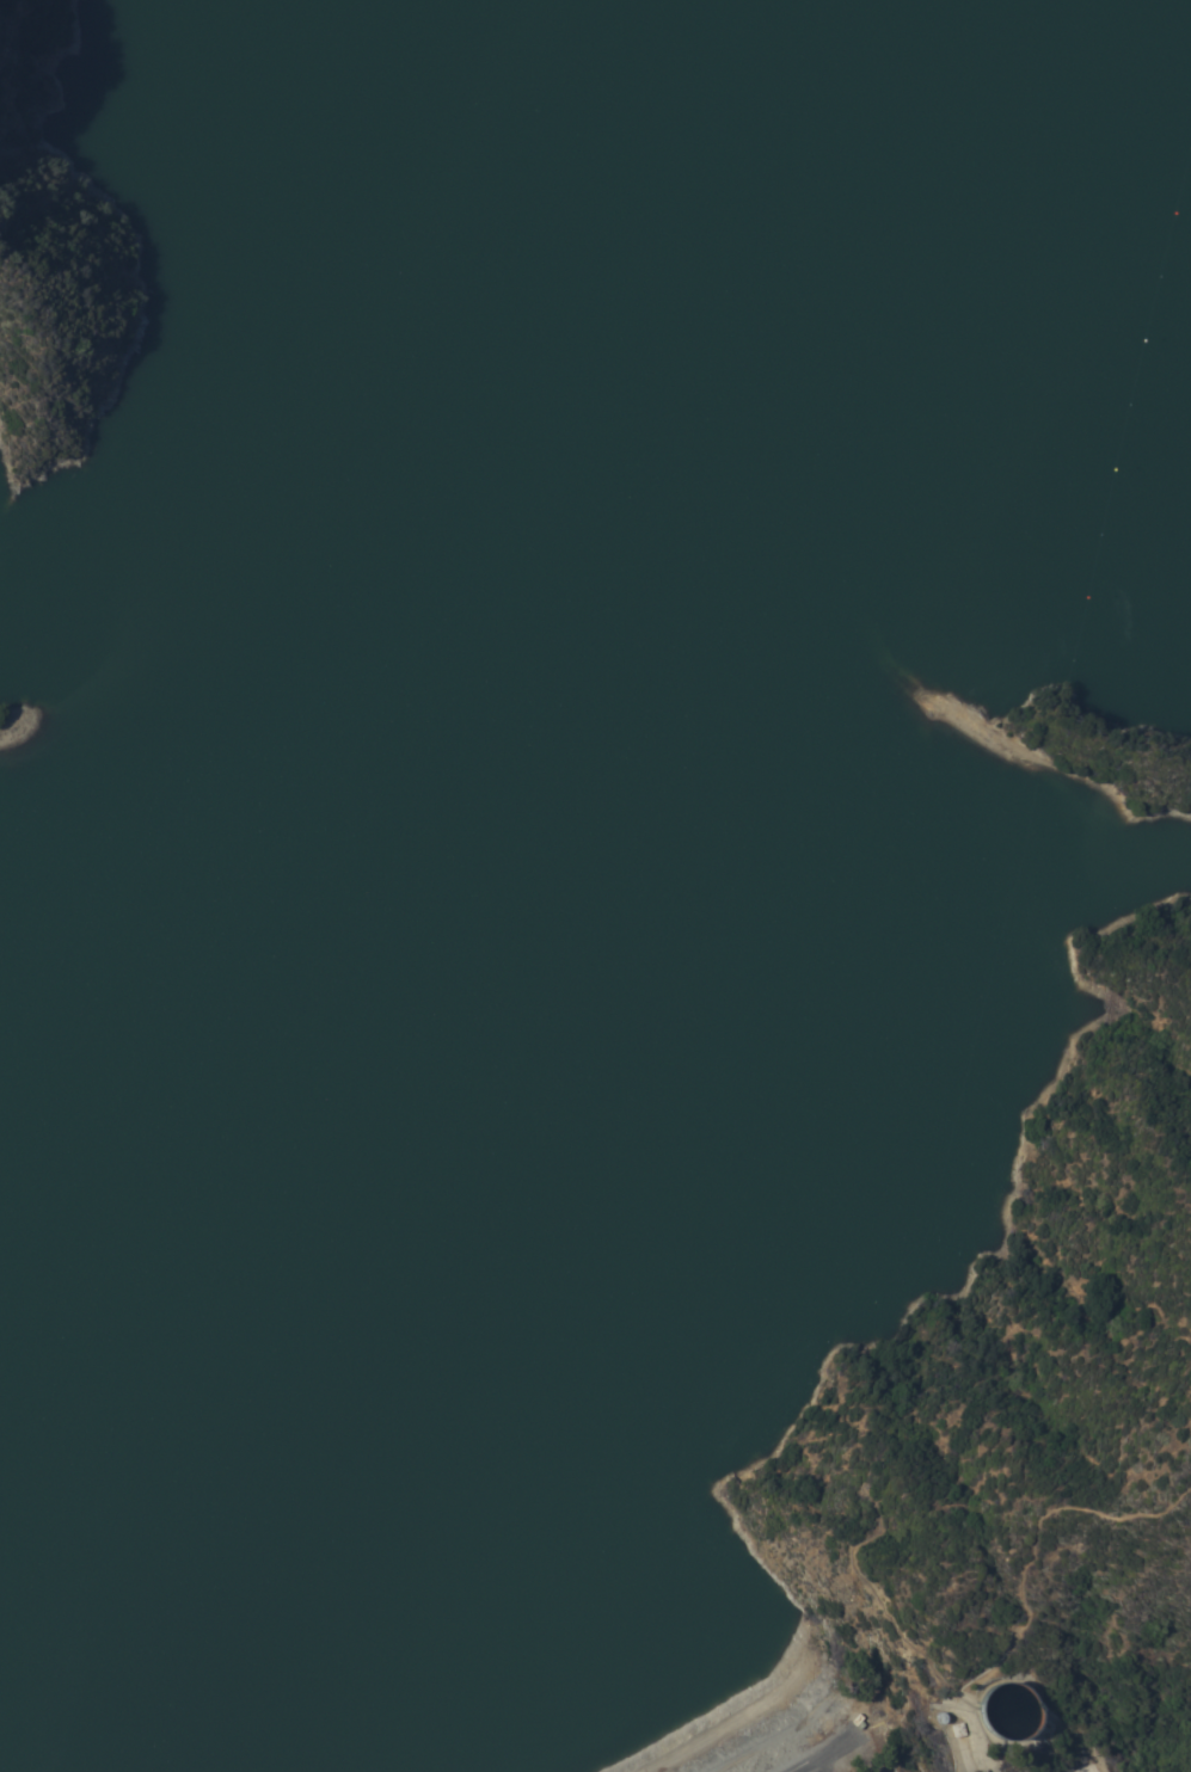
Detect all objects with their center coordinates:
river: (1119, 69)
river: (253, 885)
building: (651, 1292)
river: (589, 1532)
river: (12, 1667)
building: (1007, 1710)
dam: (763, 1723)

